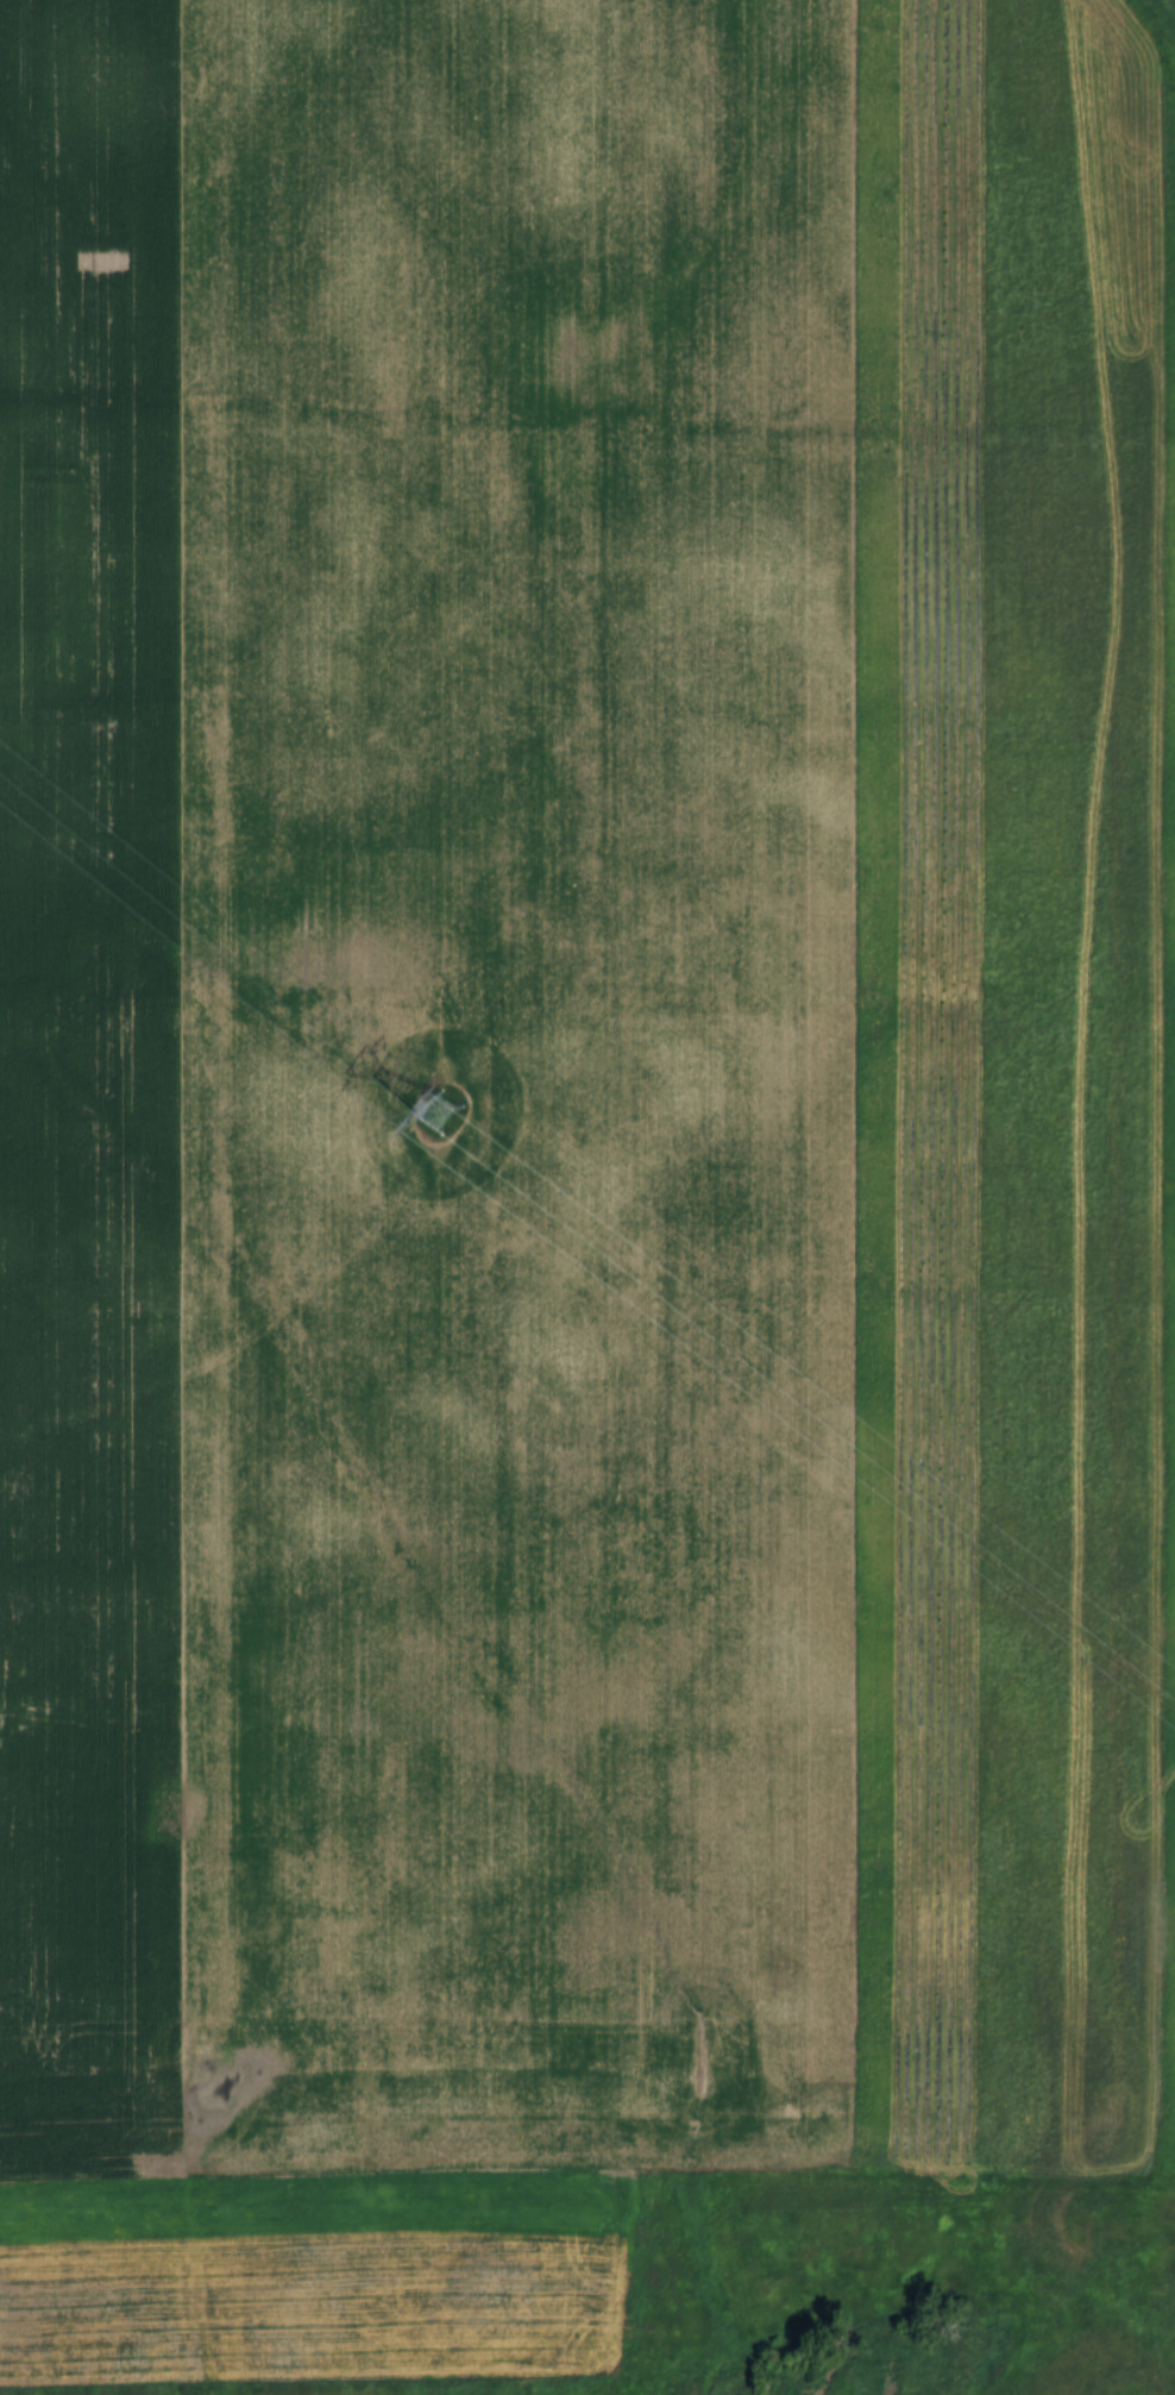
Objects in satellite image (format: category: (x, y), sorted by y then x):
power tower: (439, 1115)

